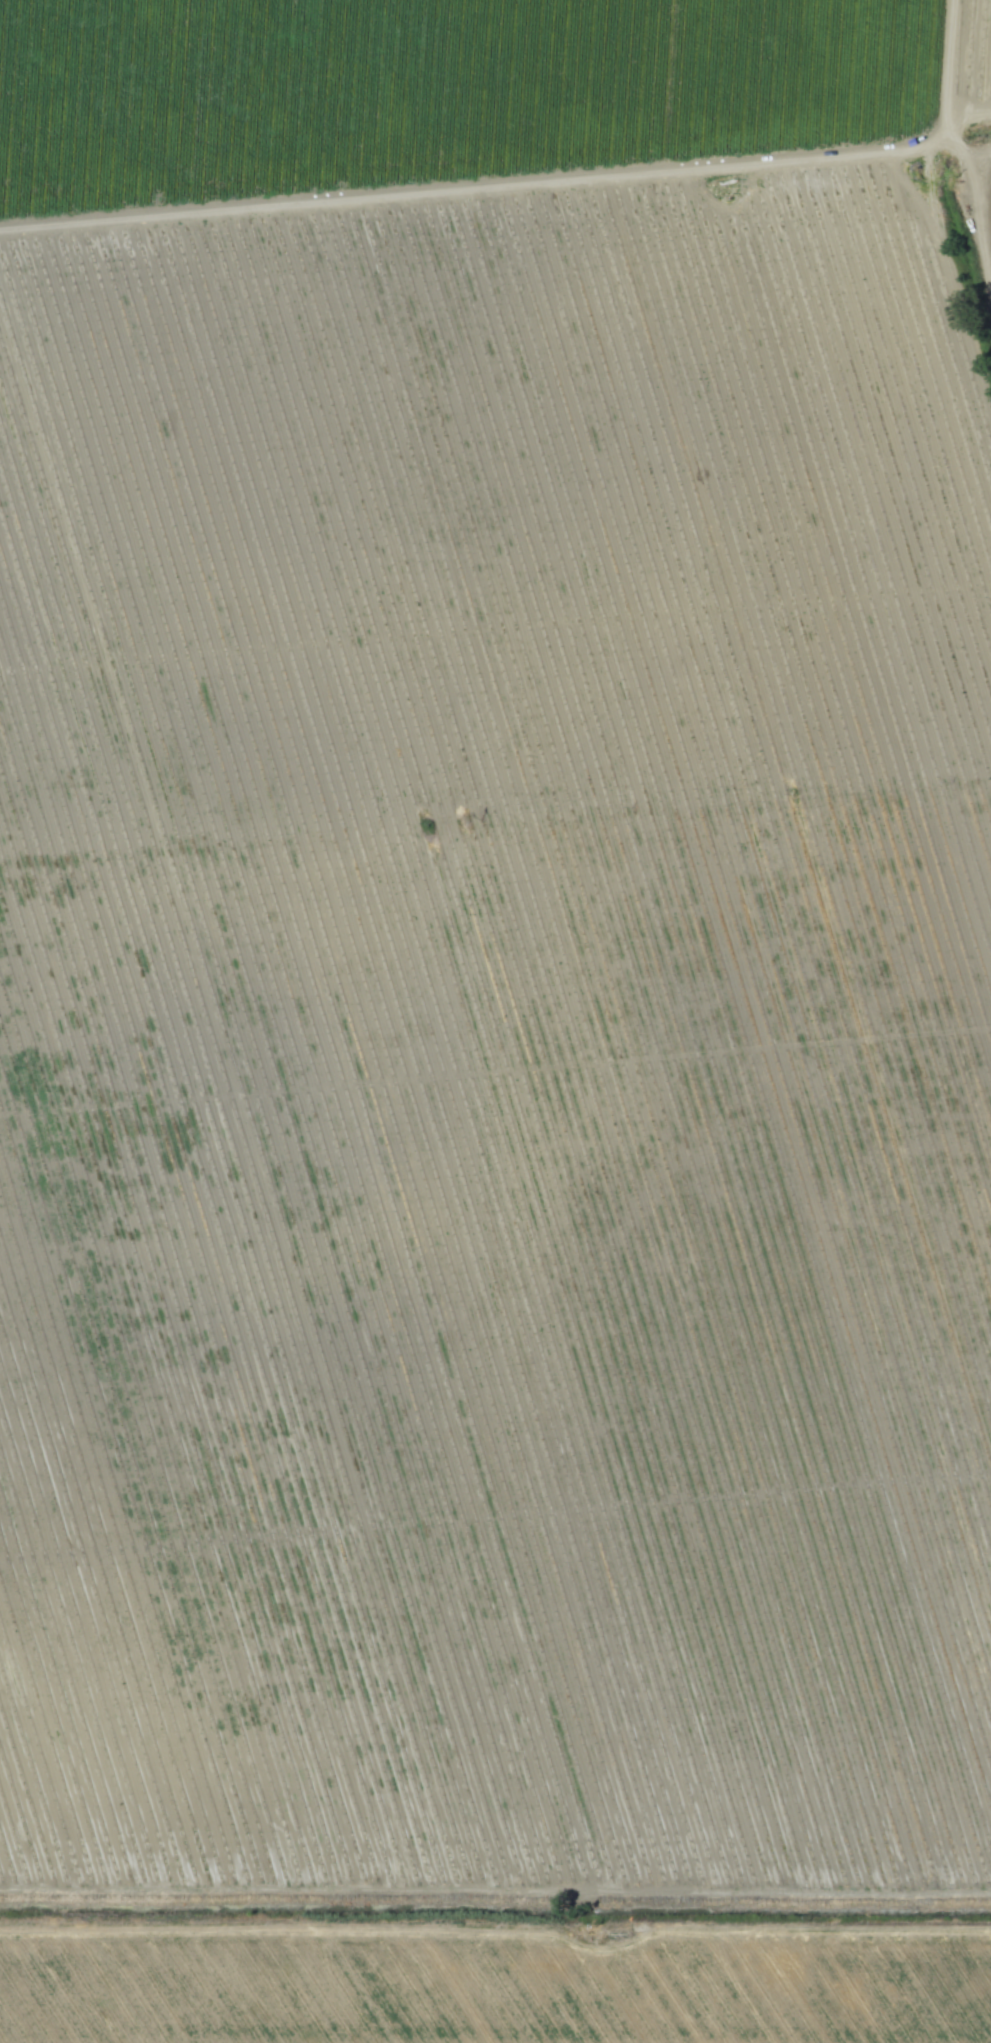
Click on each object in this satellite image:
crop: (495, 1021)

